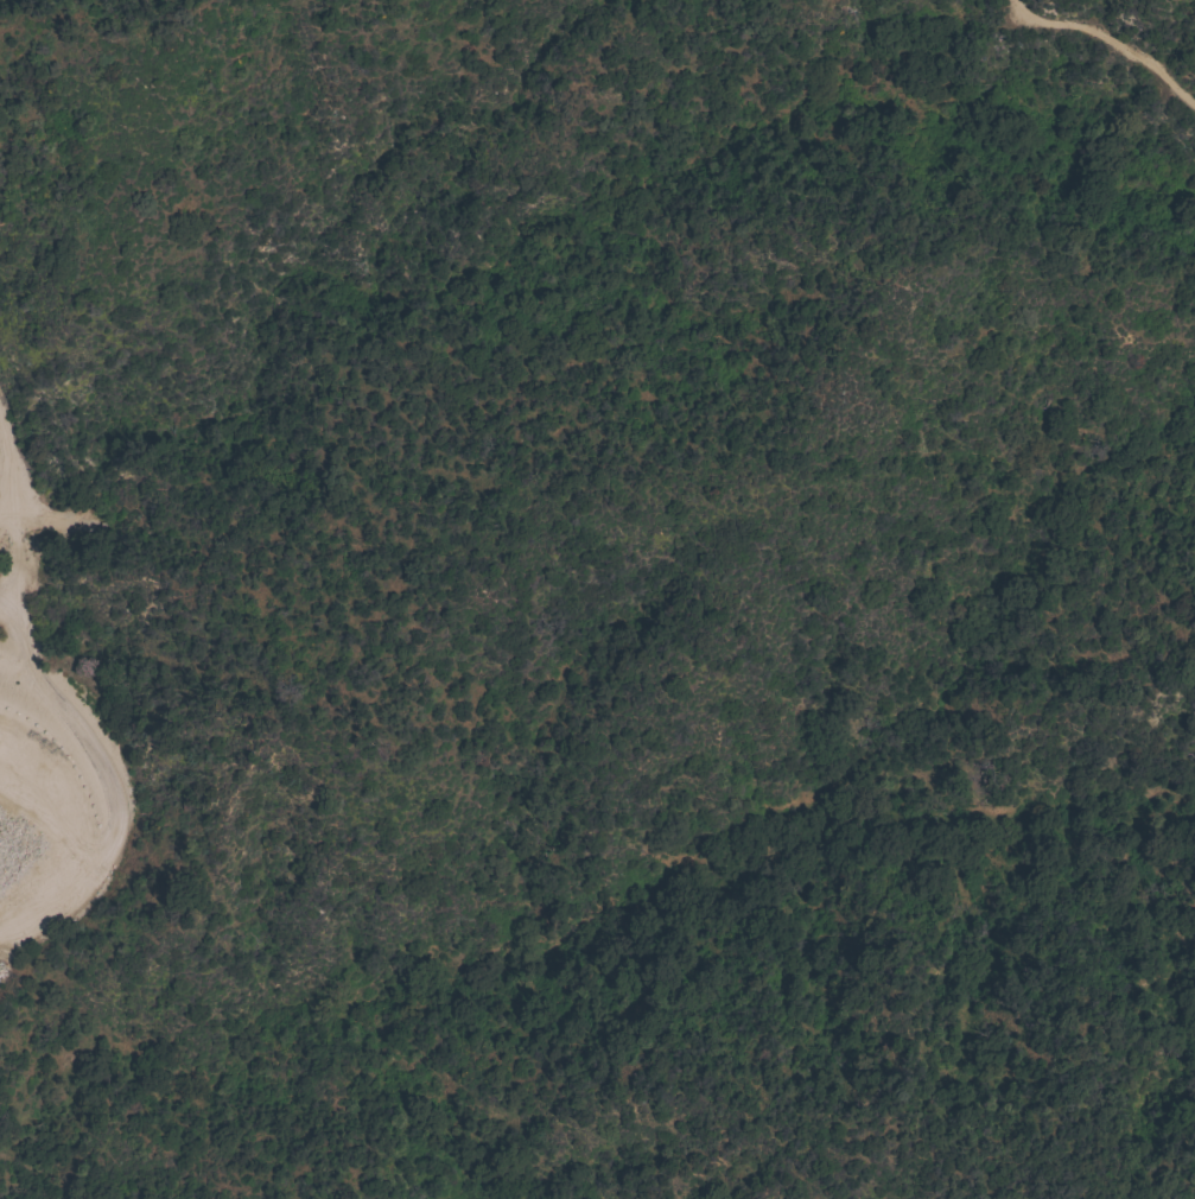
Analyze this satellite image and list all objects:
road: (1112, 31)

